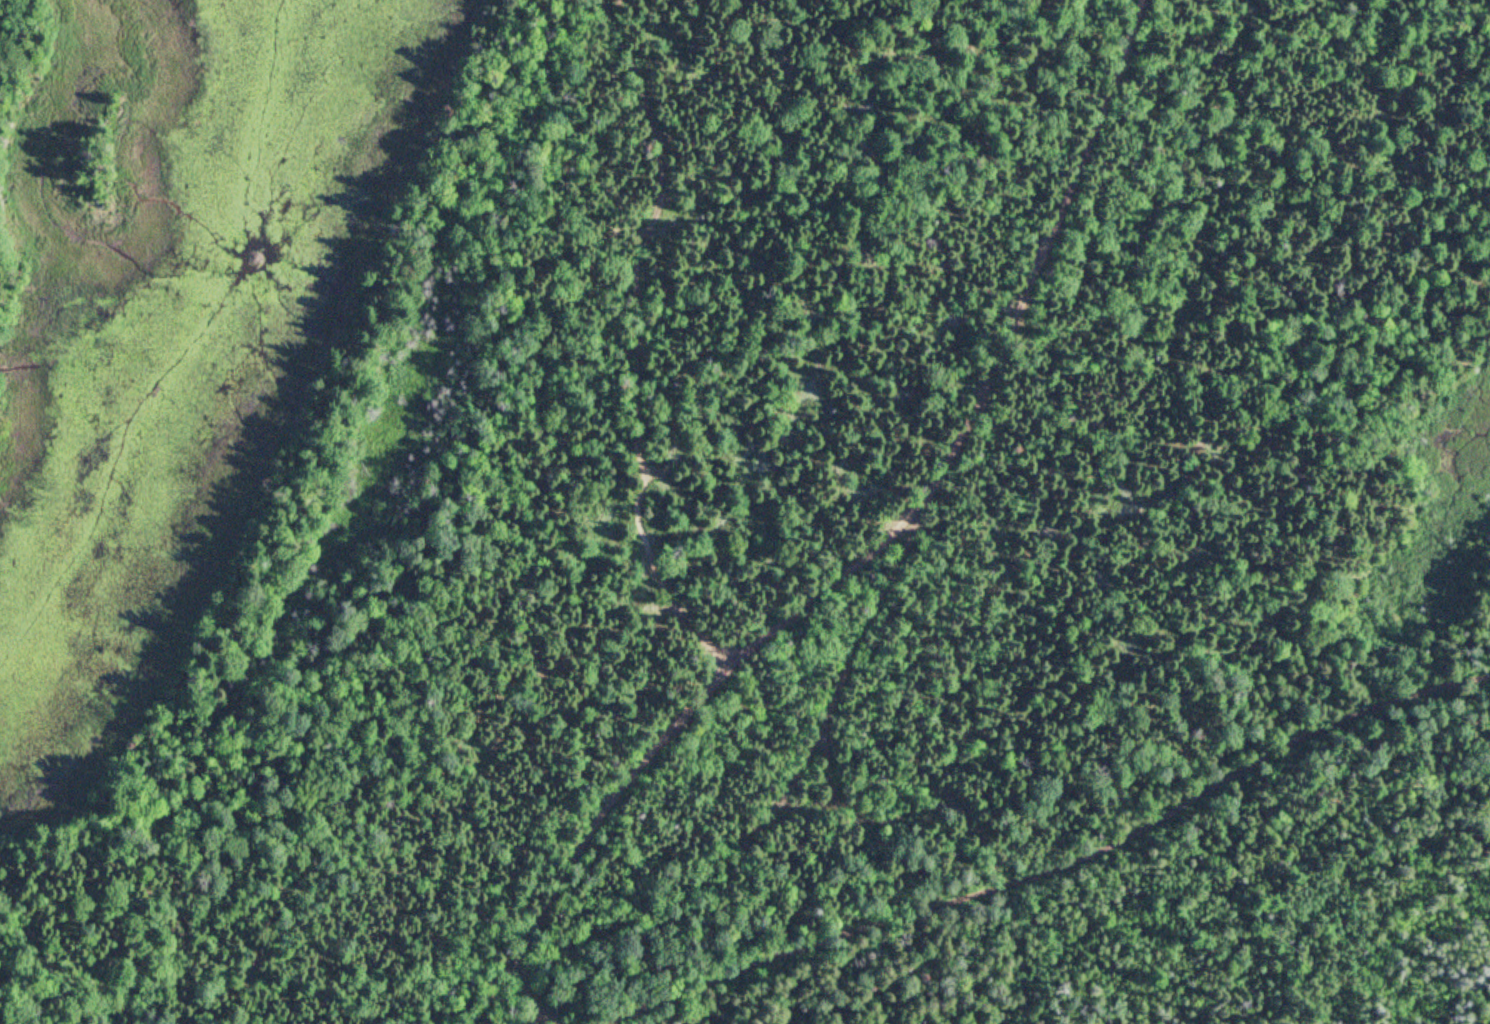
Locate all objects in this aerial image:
road: (846, 532)
road: (789, 763)
road: (1056, 864)

